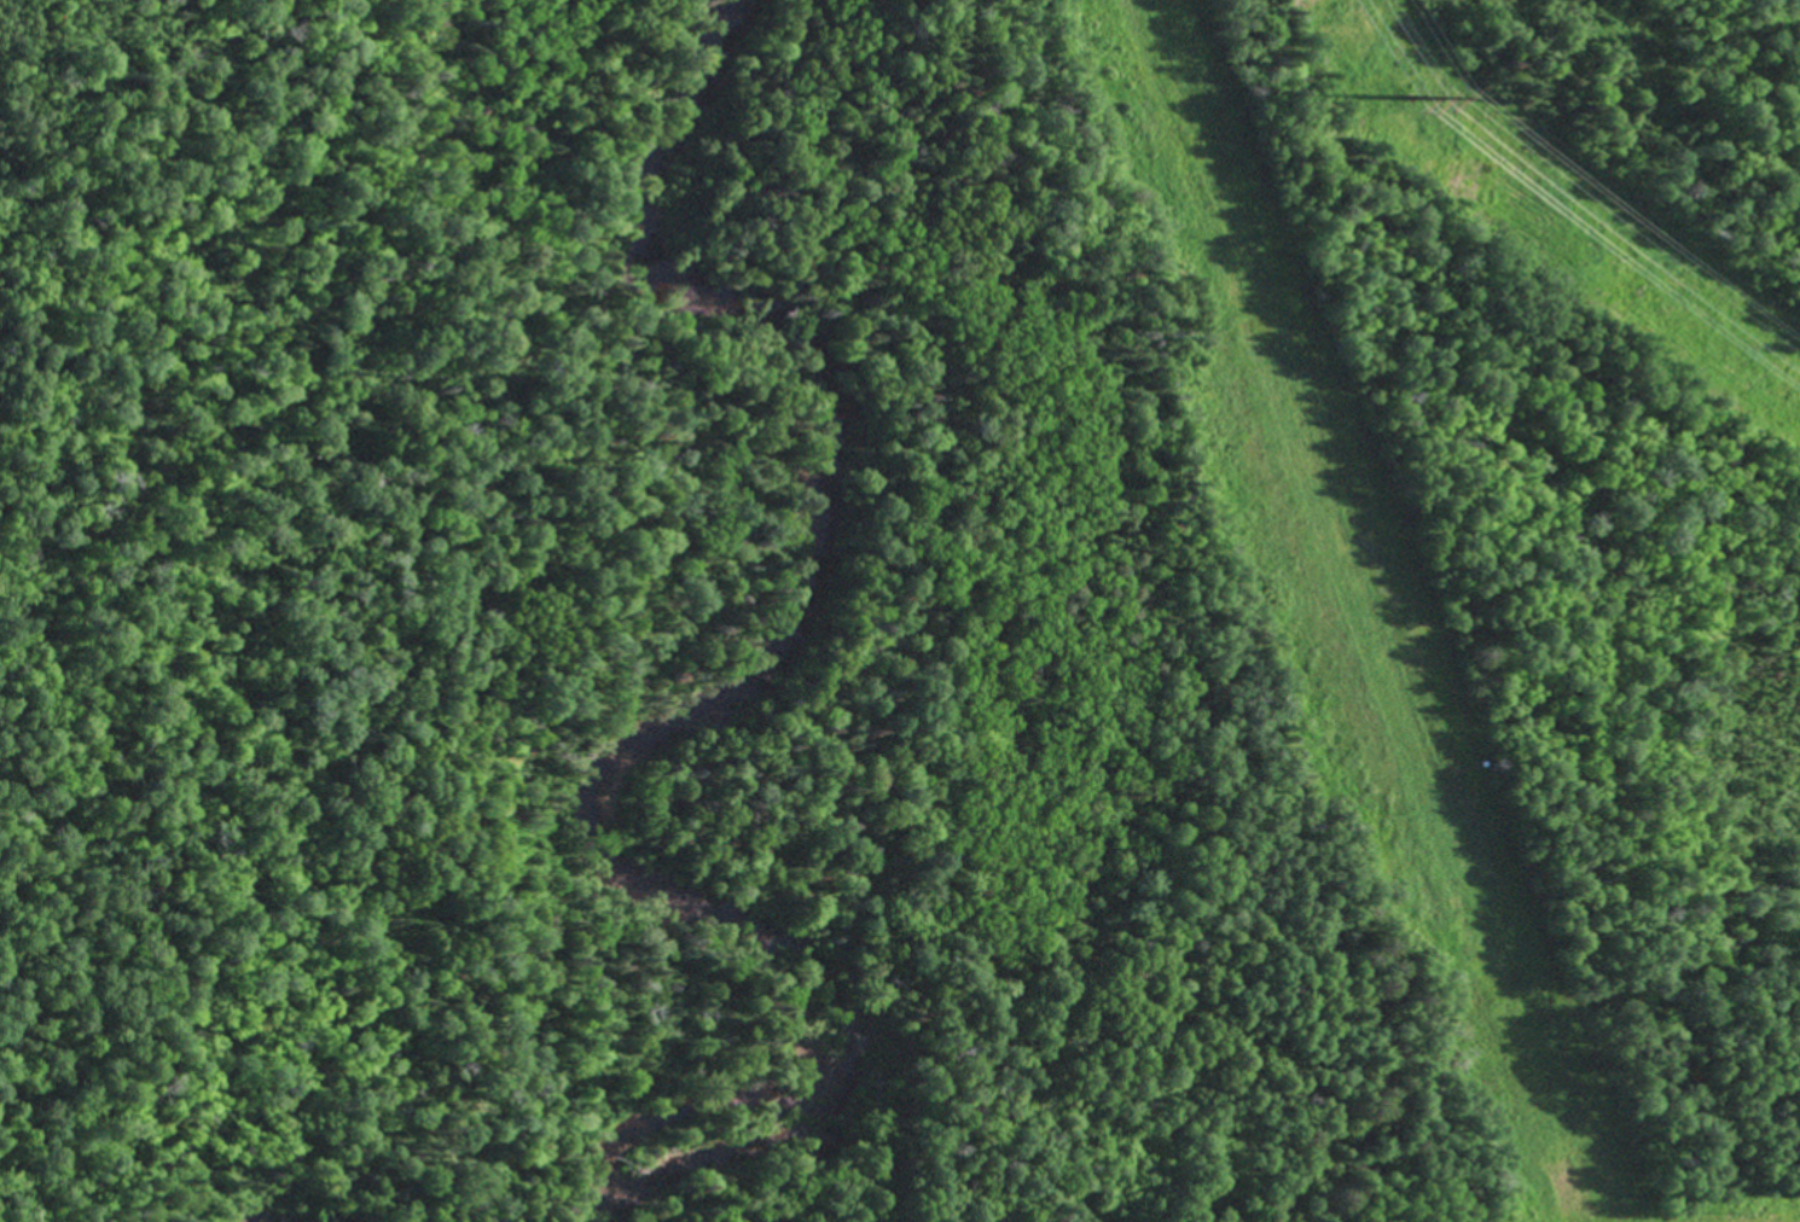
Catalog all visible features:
power tower: (1411, 98)

